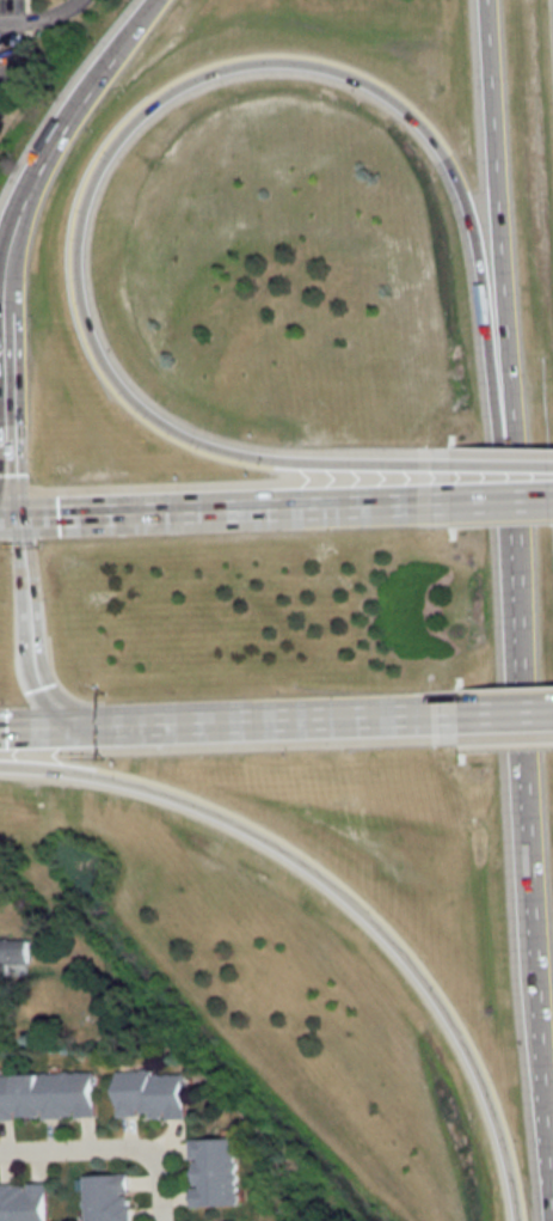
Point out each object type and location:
road: (43, 18)
road: (136, 22)
road: (38, 167)
road: (494, 219)
road: (76, 244)
road: (481, 297)
road: (2, 413)
traffic signals: (5, 474)
road: (502, 478)
road: (503, 499)
road: (226, 508)
traffic signals: (57, 514)
road: (30, 630)
traffic signals: (38, 685)
road: (508, 709)
road: (232, 719)
traffic signals: (6, 727)
road: (509, 744)
road: (528, 830)
road: (345, 893)
building: (11, 954)
building: (147, 1094)
building: (45, 1095)
road: (79, 1149)
building: (210, 1172)
road: (158, 1191)
building: (105, 1197)
building: (23, 1203)

